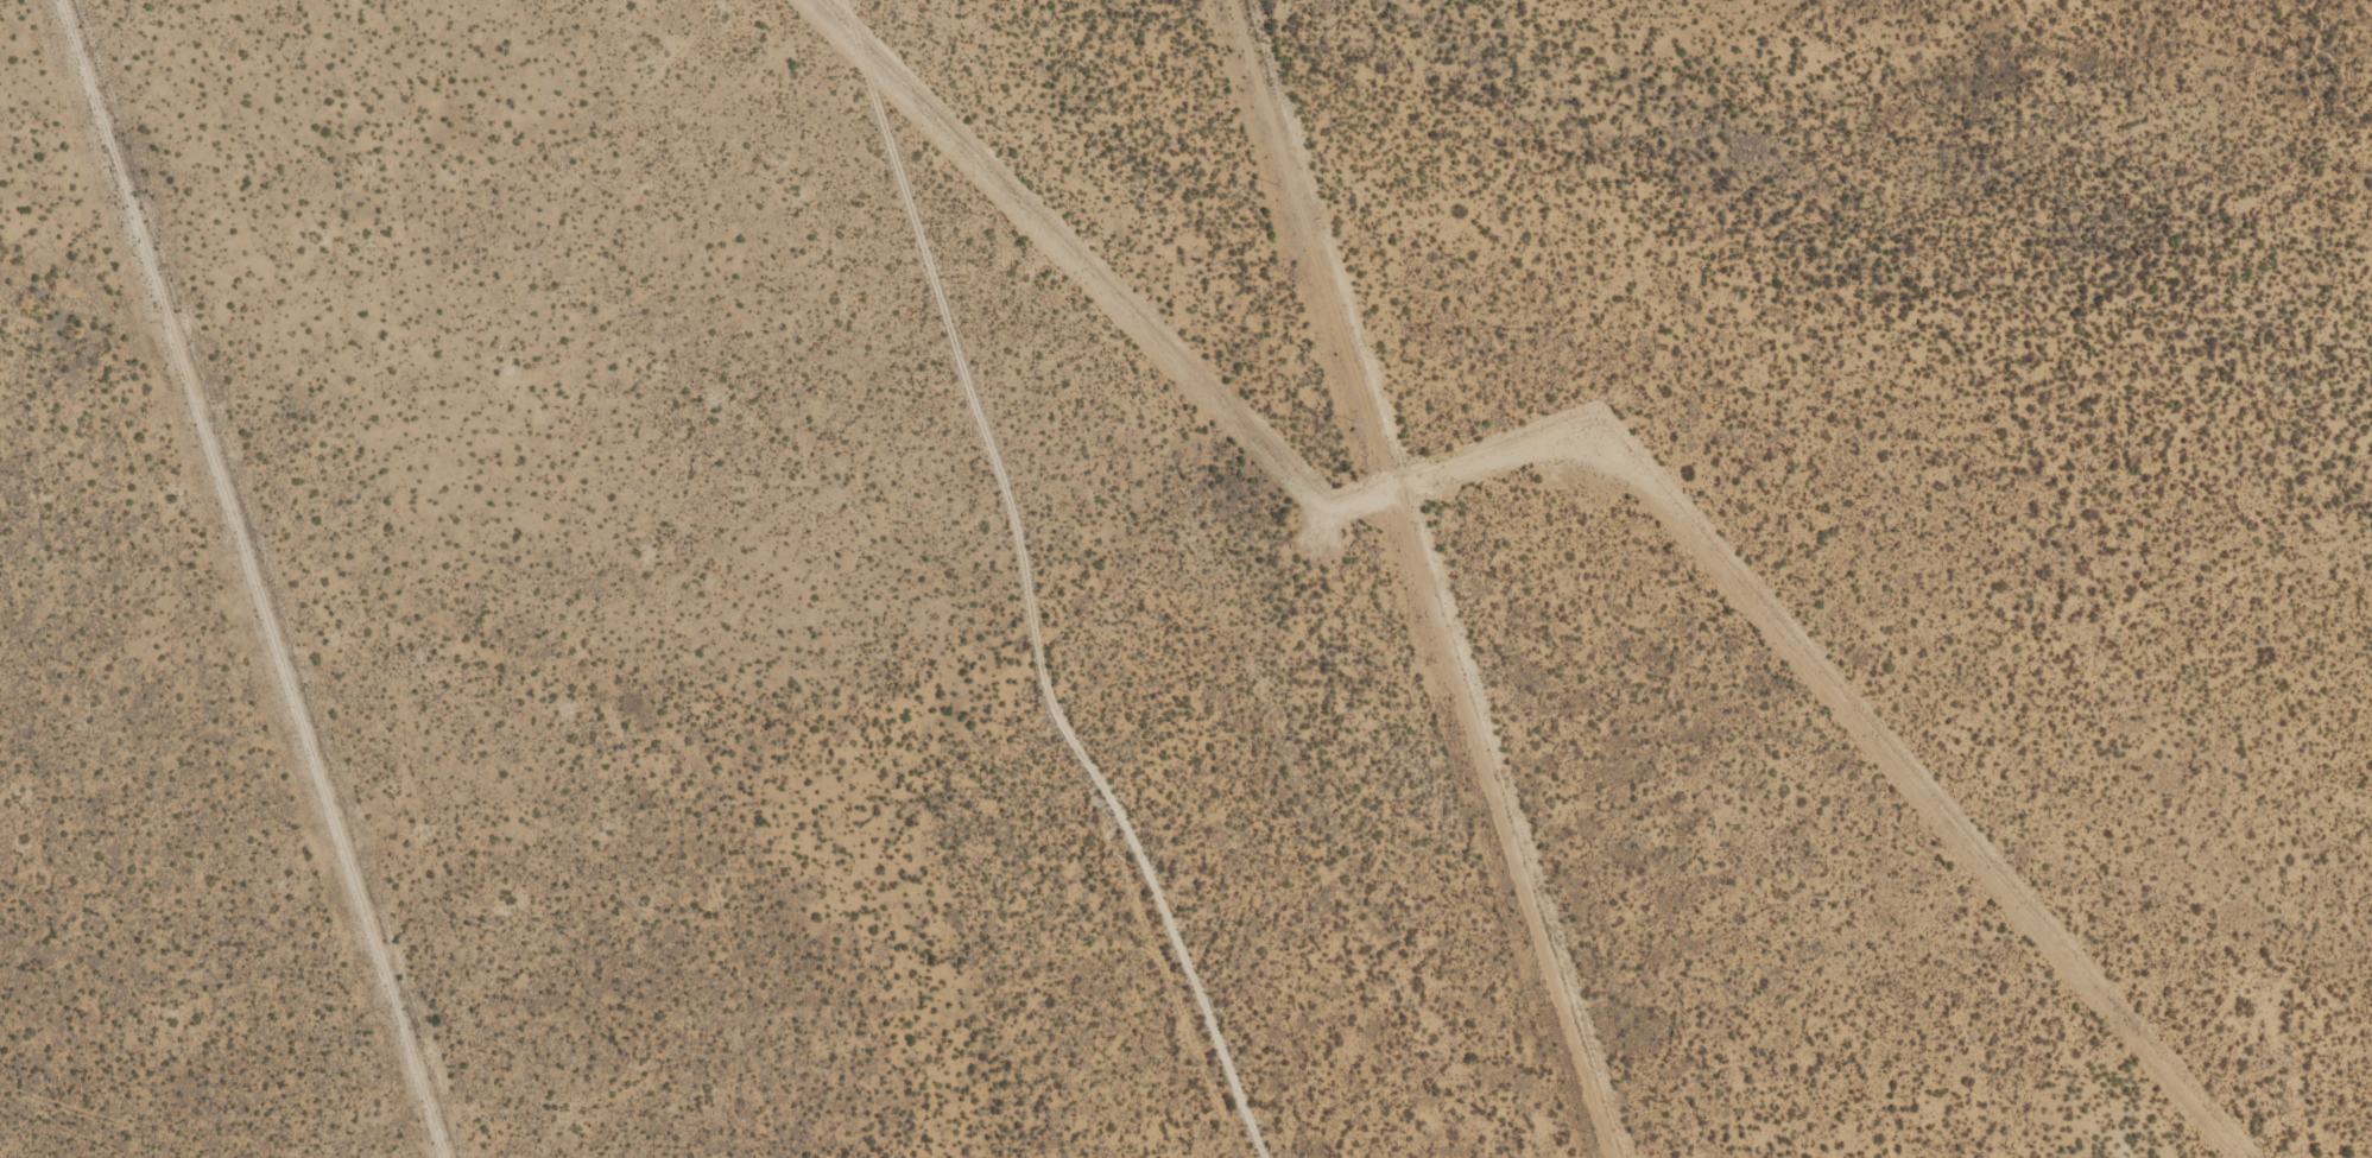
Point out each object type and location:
road: (10, 2)
road: (1044, 591)

